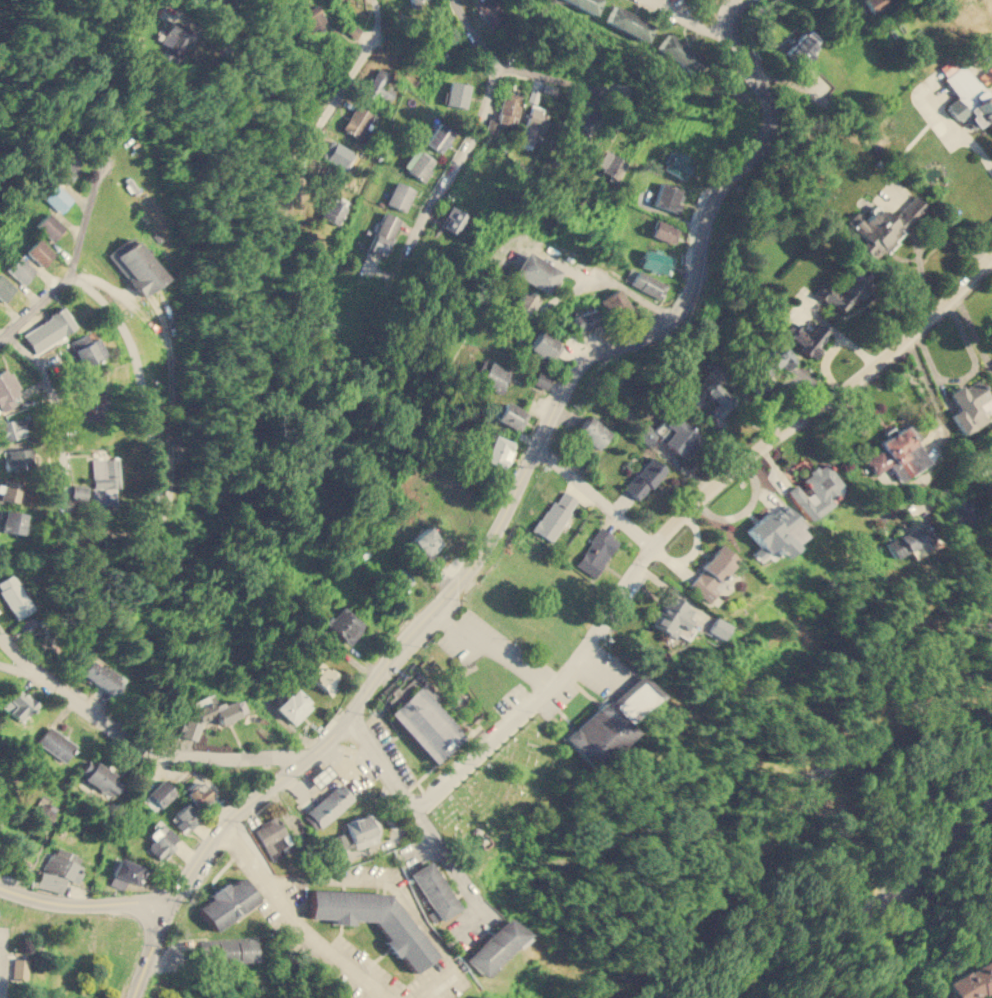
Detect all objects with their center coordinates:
road: (735, 1)
building: (415, 3)
building: (586, 4)
building: (874, 4)
building: (490, 12)
building: (313, 16)
road: (692, 20)
building: (627, 22)
building: (162, 29)
building: (176, 40)
building: (802, 45)
building: (679, 54)
road: (515, 69)
building: (377, 86)
building: (457, 93)
building: (968, 97)
building: (509, 106)
building: (357, 121)
building: (532, 126)
building: (440, 137)
building: (337, 153)
road: (286, 159)
building: (674, 162)
building: (419, 163)
building: (67, 167)
road: (449, 172)
building: (400, 195)
building: (668, 196)
building: (57, 197)
building: (335, 208)
building: (453, 219)
building: (49, 225)
building: (885, 226)
building: (664, 230)
building: (383, 233)
building: (40, 252)
building: (657, 261)
road: (72, 264)
building: (135, 265)
building: (20, 269)
building: (537, 271)
building: (645, 282)
building: (5, 287)
building: (844, 289)
building: (615, 302)
building: (523, 304)
building: (585, 318)
building: (49, 329)
building: (807, 338)
building: (543, 343)
building: (88, 347)
building: (767, 367)
building: (494, 375)
road: (140, 379)
building: (541, 379)
building: (7, 391)
building: (92, 402)
building: (716, 403)
building: (969, 405)
building: (510, 414)
building: (12, 428)
building: (591, 431)
building: (678, 435)
building: (498, 451)
building: (897, 453)
building: (18, 458)
road: (531, 461)
road: (61, 473)
building: (643, 477)
building: (103, 480)
road: (956, 481)
building: (817, 489)
building: (9, 490)
building: (74, 491)
road: (597, 496)
building: (774, 503)
building: (555, 514)
building: (964, 514)
building: (10, 521)
building: (773, 532)
building: (907, 541)
building: (426, 543)
building: (596, 551)
road: (649, 554)
building: (712, 572)
building: (399, 581)
building: (14, 595)
building: (671, 616)
building: (345, 624)
building: (716, 627)
road: (506, 655)
road: (598, 667)
building: (99, 675)
building: (323, 677)
building: (19, 704)
building: (293, 706)
building: (611, 720)
building: (425, 724)
building: (188, 729)
road: (136, 742)
building: (56, 743)
building: (102, 778)
building: (199, 793)
building: (160, 794)
park: (512, 803)
building: (328, 805)
building: (43, 811)
building: (185, 817)
building: (361, 830)
park: (884, 830)
road: (299, 833)
building: (272, 836)
building: (161, 840)
building: (65, 864)
building: (123, 872)
building: (47, 880)
road: (298, 880)
road: (366, 882)
building: (433, 890)
road: (84, 902)
building: (226, 902)
road: (869, 906)
building: (373, 919)
road: (295, 920)
building: (492, 945)
road: (153, 947)
building: (227, 949)
road: (445, 950)
building: (17, 967)
building: (972, 981)
building: (478, 996)

